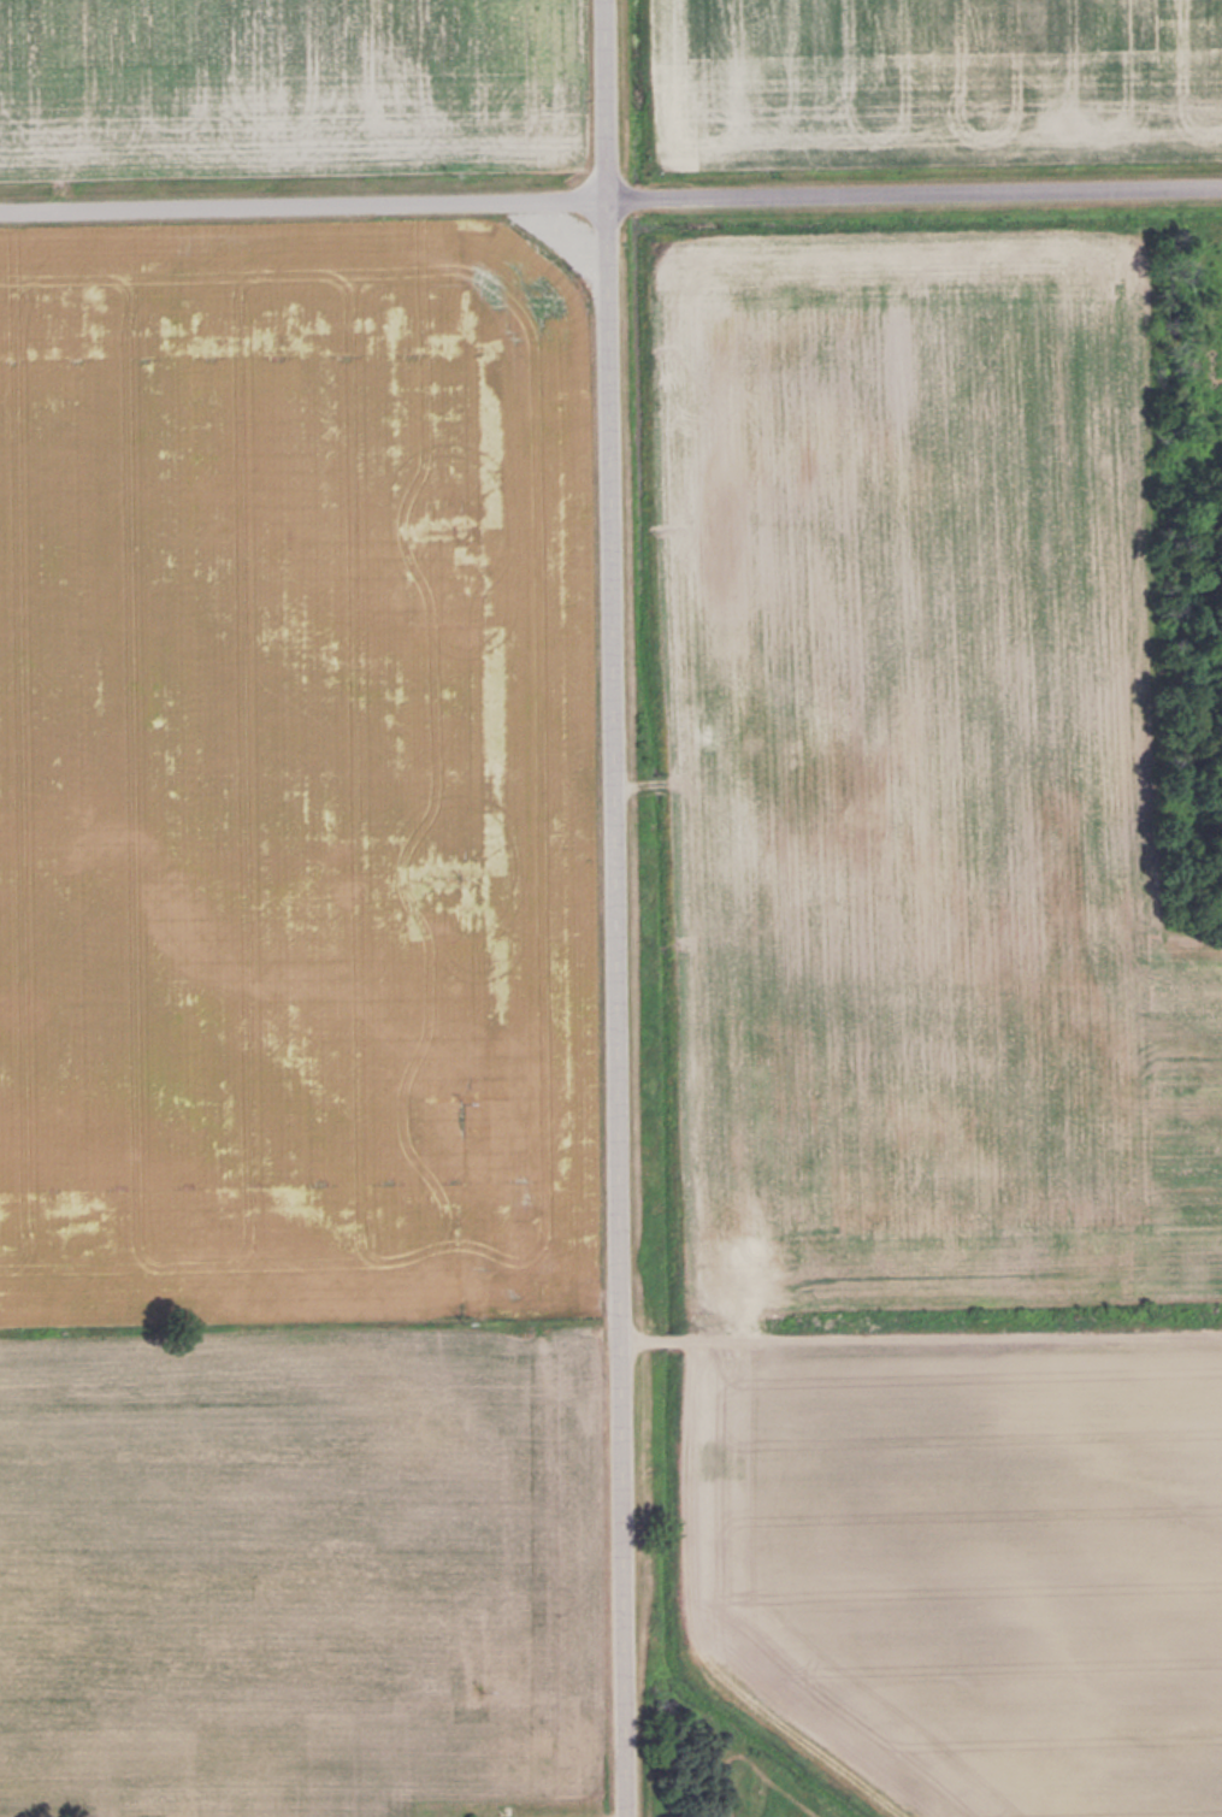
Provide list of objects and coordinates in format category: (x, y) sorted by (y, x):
road: (610, 197)
road: (613, 908)
road: (920, 1340)

